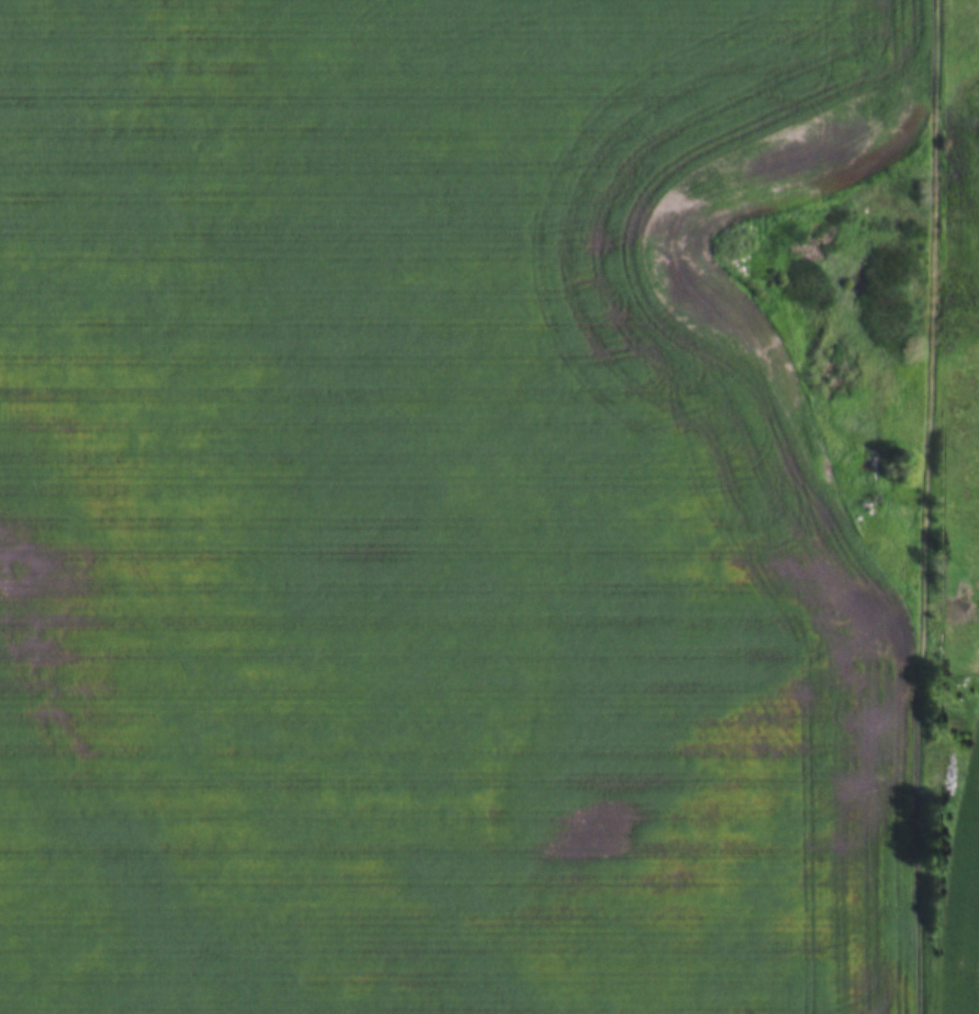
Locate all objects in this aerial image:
road: (924, 506)

